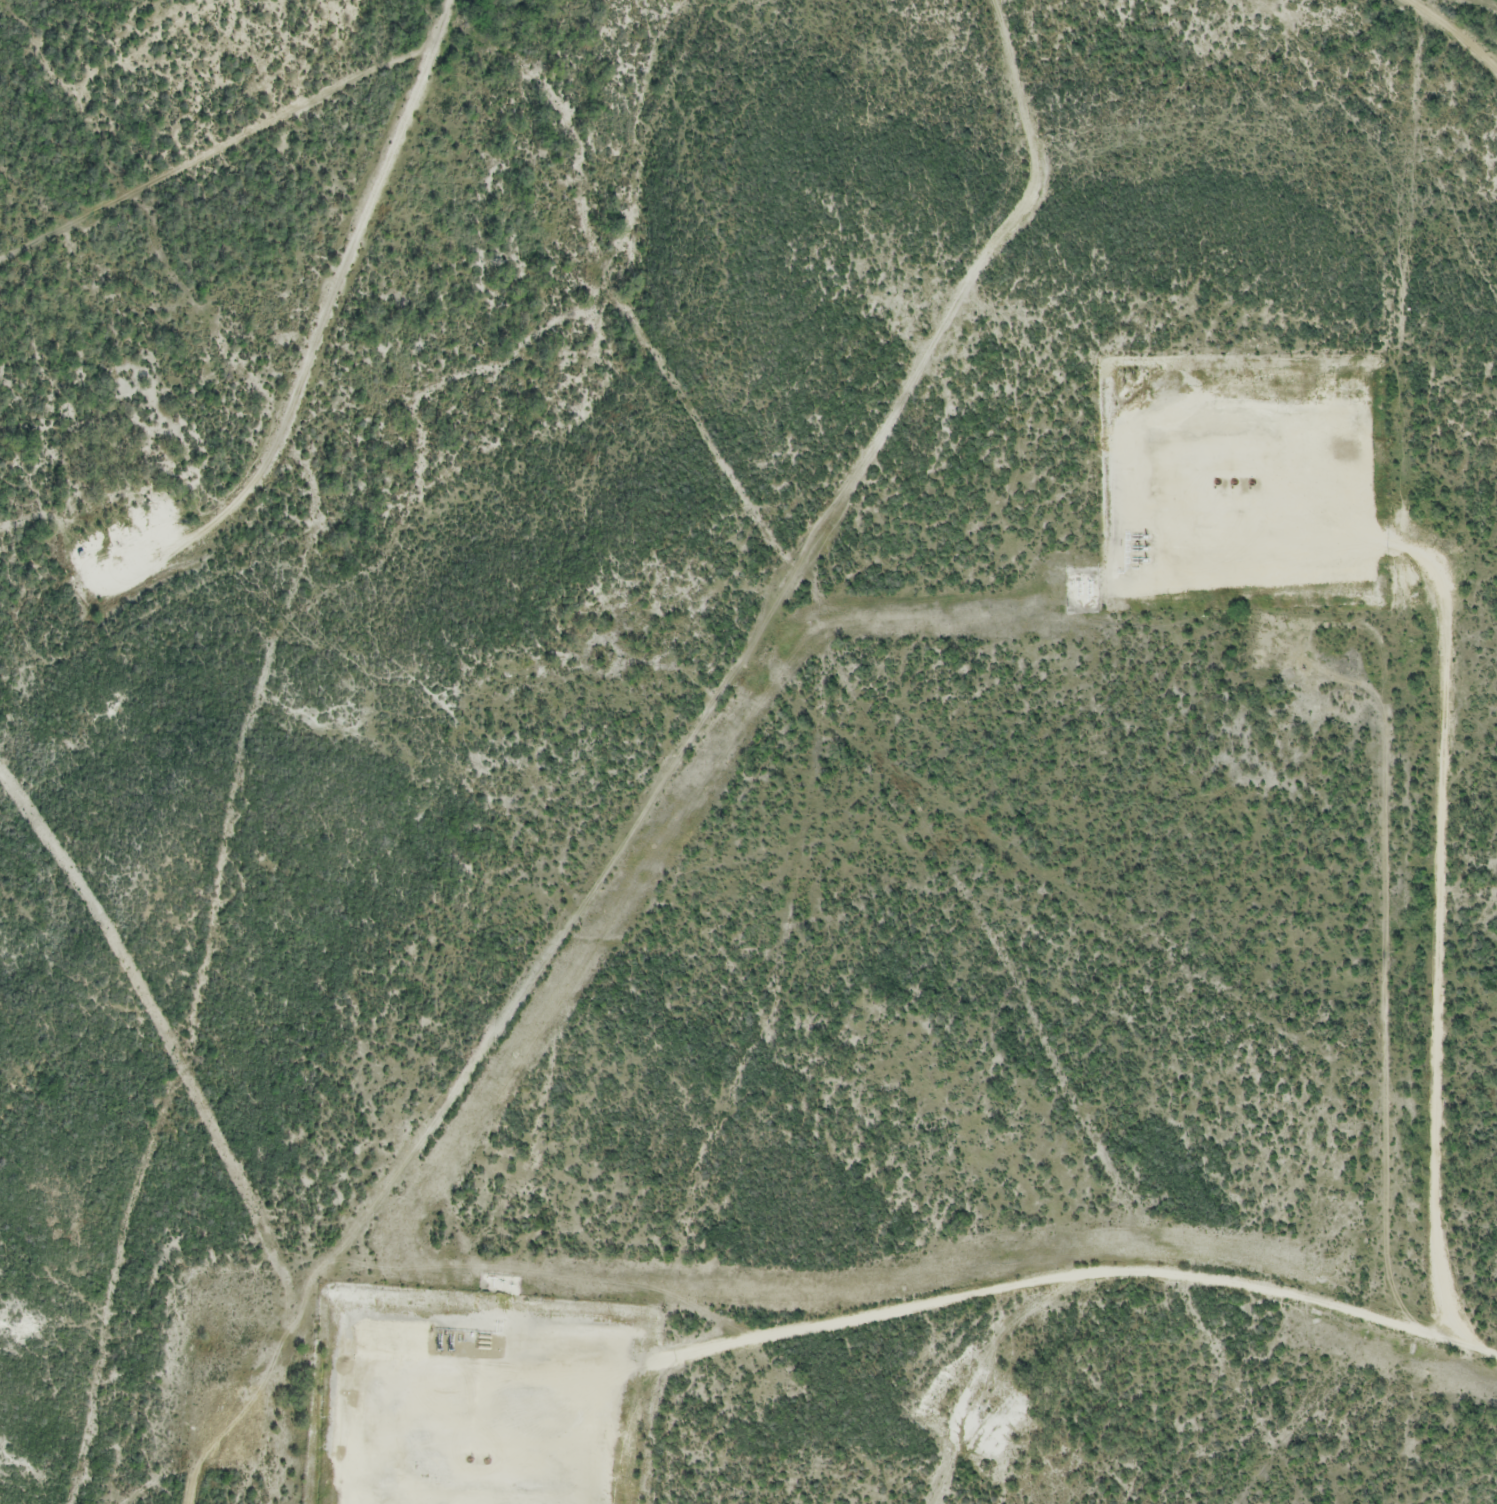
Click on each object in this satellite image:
road: (1438, 53)

